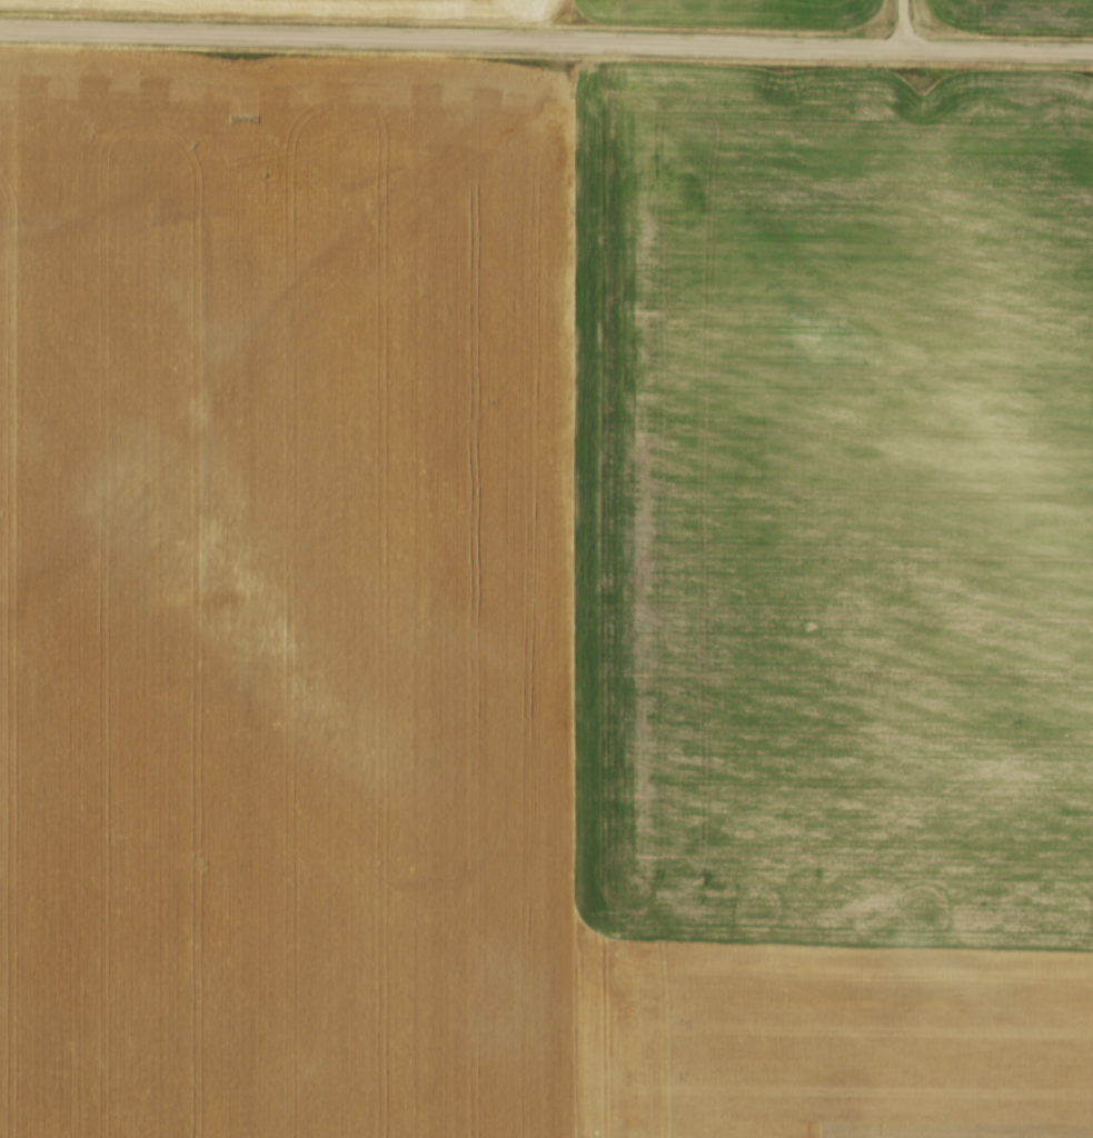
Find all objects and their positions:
crop: (520, 10)
crop: (1017, 13)
road: (904, 23)
road: (546, 40)
crop: (544, 599)

